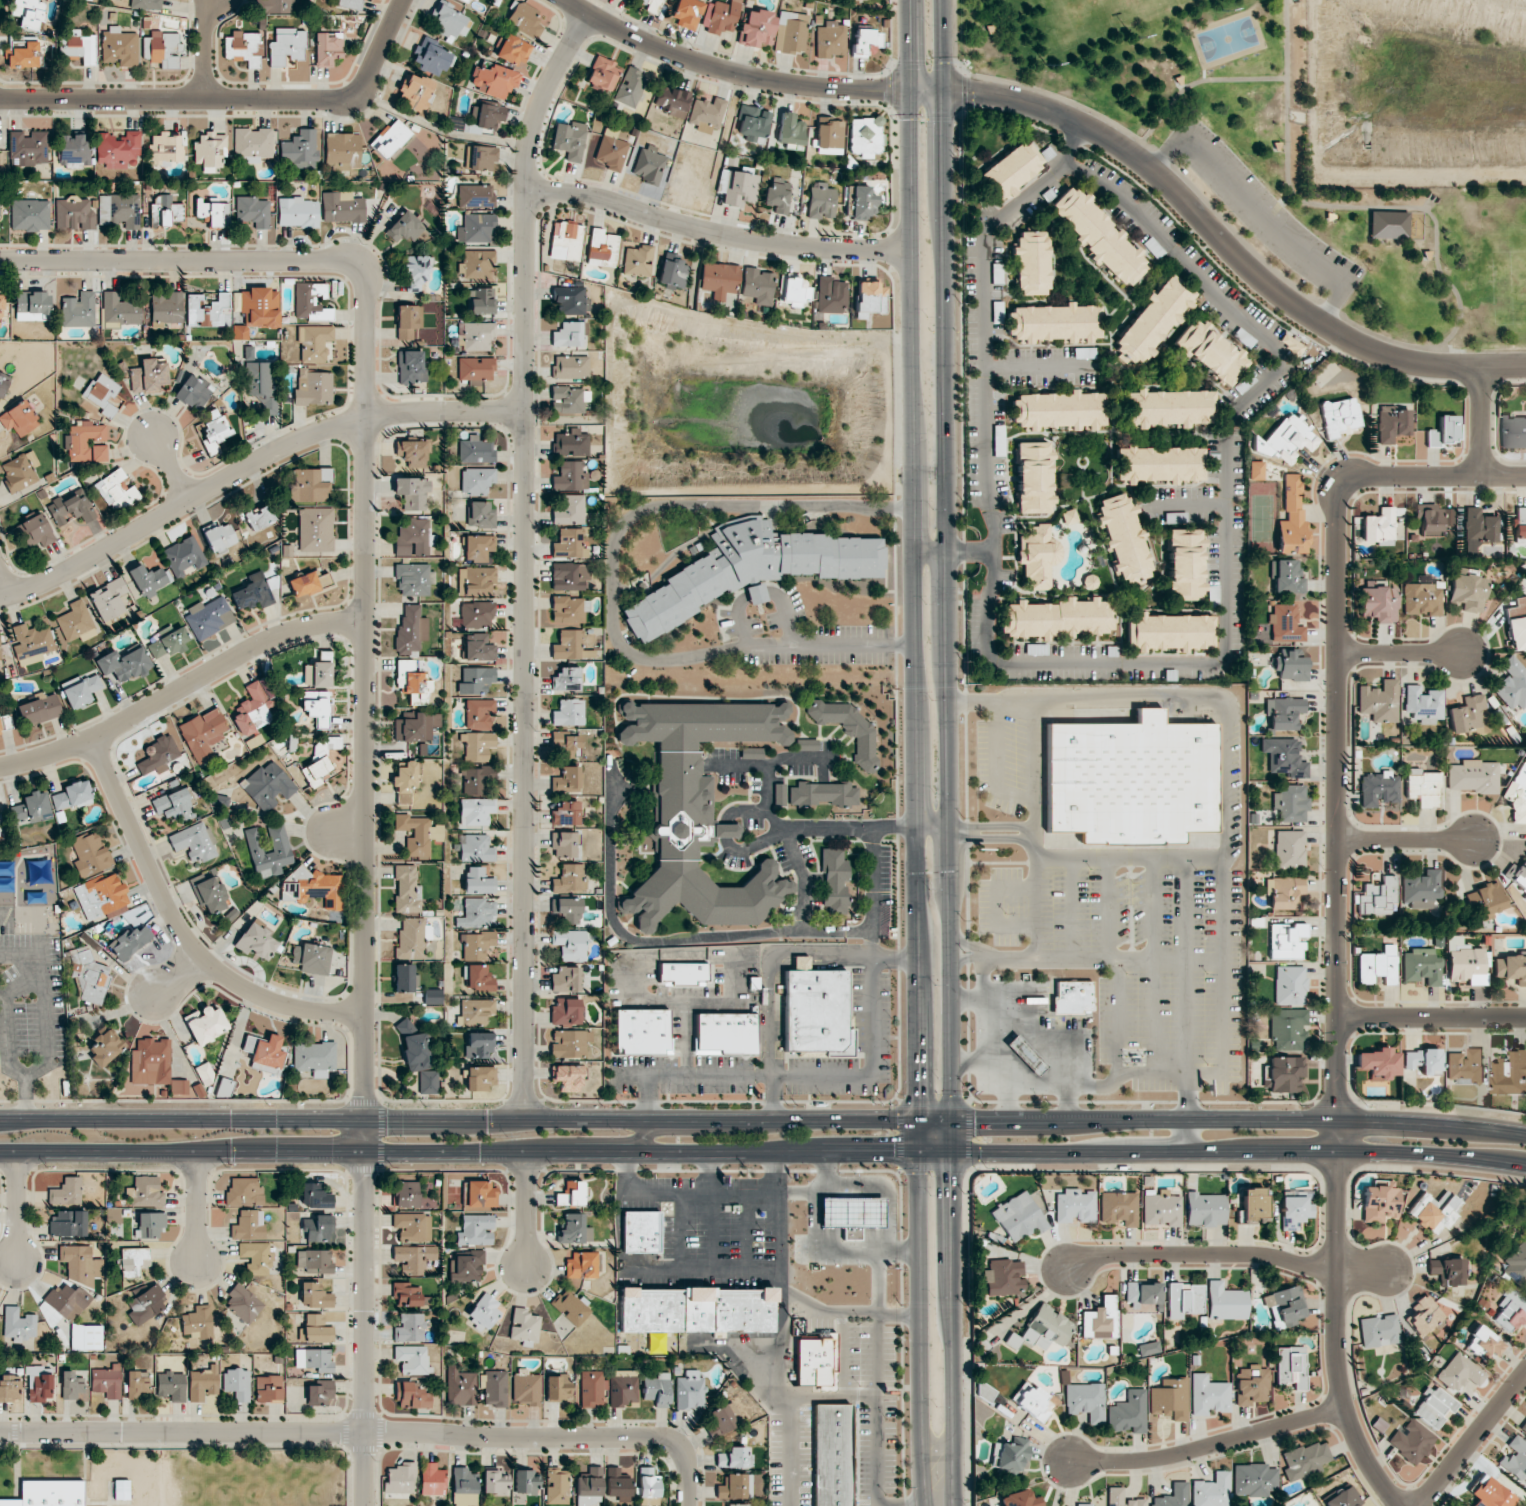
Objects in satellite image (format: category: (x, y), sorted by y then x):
building: (464, 0)
building: (475, 0)
building: (146, 4)
building: (351, 4)
building: (653, 5)
building: (279, 6)
building: (29, 12)
building: (687, 14)
building: (721, 17)
building: (526, 19)
building: (449, 21)
building: (757, 28)
building: (791, 34)
park: (1228, 39)
building: (830, 40)
building: (866, 42)
building: (79, 46)
building: (120, 46)
building: (286, 46)
building: (243, 47)
building: (328, 48)
building: (163, 49)
road: (205, 49)
building: (514, 51)
building: (25, 56)
building: (432, 57)
traffic signals: (913, 59)
building: (602, 73)
road: (1204, 75)
building: (494, 79)
road: (1199, 80)
traffic signals: (879, 91)
building: (414, 92)
traffic signals: (970, 92)
road: (231, 99)
building: (672, 101)
building: (706, 114)
building: (753, 123)
road: (1076, 123)
traffic signals: (944, 124)
building: (790, 129)
building: (865, 135)
building: (829, 136)
building: (390, 138)
building: (570, 140)
building: (252, 144)
road: (1070, 145)
building: (166, 147)
building: (28, 148)
building: (340, 149)
building: (74, 150)
building: (299, 150)
building: (210, 151)
building: (611, 152)
building: (480, 158)
building: (354, 159)
park: (1268, 159)
building: (649, 165)
building: (1012, 169)
road: (1181, 175)
building: (475, 196)
building: (777, 196)
building: (0, 197)
building: (821, 201)
building: (863, 203)
building: (342, 207)
road: (1345, 207)
road: (1386, 210)
building: (119, 211)
building: (165, 211)
building: (252, 211)
building: (214, 212)
building: (297, 212)
building: (74, 214)
building: (30, 215)
road: (1261, 215)
building: (1388, 225)
building: (405, 227)
building: (477, 228)
road: (717, 232)
building: (1099, 237)
building: (566, 241)
building: (602, 248)
building: (637, 259)
building: (1032, 263)
building: (477, 264)
building: (416, 272)
building: (673, 273)
building: (719, 278)
building: (757, 286)
building: (793, 290)
building: (831, 296)
building: (869, 298)
building: (311, 301)
building: (482, 301)
building: (570, 301)
building: (2, 305)
building: (32, 306)
building: (167, 307)
building: (194, 309)
building: (219, 309)
building: (78, 310)
building: (120, 310)
building: (257, 310)
building: (407, 321)
building: (1154, 321)
road: (1247, 321)
building: (1053, 323)
building: (569, 334)
building: (478, 336)
building: (314, 342)
building: (1292, 345)
building: (1210, 352)
road: (1040, 366)
building: (410, 367)
building: (571, 367)
building: (3, 384)
building: (261, 386)
building: (313, 387)
building: (194, 392)
building: (104, 394)
building: (570, 400)
building: (1169, 408)
building: (1060, 411)
building: (1340, 416)
building: (19, 418)
road: (1482, 422)
building: (1392, 424)
building: (215, 431)
building: (1443, 432)
building: (1513, 432)
building: (1287, 439)
building: (77, 442)
building: (571, 443)
building: (476, 450)
building: (413, 452)
building: (1159, 464)
road: (250, 465)
road: (172, 469)
building: (1256, 470)
building: (20, 471)
building: (571, 476)
building: (1033, 478)
building: (476, 480)
building: (313, 485)
building: (117, 491)
building: (413, 493)
building: (71, 509)
building: (569, 510)
building: (480, 514)
building: (259, 518)
building: (1428, 518)
building: (1292, 520)
building: (1520, 525)
building: (1379, 527)
building: (316, 529)
building: (1478, 529)
building: (36, 531)
building: (220, 537)
building: (1124, 539)
building: (569, 544)
building: (480, 548)
road: (931, 554)
building: (184, 556)
building: (1038, 556)
road: (526, 560)
building: (1184, 564)
building: (749, 569)
building: (569, 576)
building: (1286, 577)
building: (324, 578)
building: (149, 579)
building: (414, 579)
building: (475, 580)
road: (4, 584)
building: (304, 584)
road: (610, 585)
building: (252, 591)
building: (1468, 591)
building: (756, 593)
building: (108, 599)
building: (1421, 599)
building: (569, 609)
building: (477, 614)
building: (209, 617)
building: (1056, 618)
building: (75, 623)
building: (1285, 624)
building: (1517, 624)
building: (410, 630)
building: (1169, 632)
building: (168, 641)
building: (31, 643)
building: (478, 647)
road: (1400, 653)
road: (1337, 661)
building: (124, 664)
building: (1291, 665)
building: (317, 674)
building: (566, 679)
building: (476, 680)
building: (412, 681)
building: (1512, 684)
road: (181, 688)
building: (80, 690)
building: (1380, 701)
building: (1422, 706)
building: (316, 707)
road: (365, 707)
building: (254, 708)
building: (569, 712)
building: (1284, 713)
building: (479, 714)
building: (1469, 714)
building: (415, 727)
building: (849, 729)
building: (203, 733)
building: (567, 745)
building: (478, 746)
road: (915, 754)
road: (947, 754)
building: (158, 755)
building: (1284, 757)
building: (321, 758)
road: (1032, 766)
building: (1474, 777)
building: (475, 780)
building: (567, 780)
building: (1129, 780)
building: (405, 782)
building: (268, 786)
road: (1226, 786)
building: (1423, 787)
building: (1378, 788)
building: (779, 794)
building: (822, 794)
building: (72, 795)
building: (1518, 795)
building: (1291, 803)
building: (175, 805)
building: (32, 807)
building: (476, 811)
building: (697, 811)
building: (566, 814)
road: (931, 829)
road: (342, 832)
building: (418, 834)
building: (278, 840)
road: (1407, 840)
building: (193, 842)
building: (564, 844)
building: (476, 848)
building: (1290, 849)
building: (90, 853)
road: (792, 853)
building: (1517, 874)
building: (569, 878)
building: (835, 880)
building: (478, 881)
building: (314, 887)
building: (407, 889)
building: (1421, 889)
building: (209, 892)
building: (1285, 892)
road: (873, 894)
building: (1378, 896)
building: (102, 897)
building: (1525, 898)
building: (1490, 899)
road: (1044, 907)
building: (565, 910)
building: (478, 914)
road: (179, 931)
building: (412, 937)
road: (640, 940)
building: (129, 941)
building: (256, 941)
building: (1286, 941)
building: (570, 944)
building: (478, 945)
road: (1082, 956)
building: (312, 958)
road: (799, 961)
road: (840, 961)
building: (1465, 962)
building: (1378, 966)
building: (1421, 966)
building: (1511, 968)
building: (680, 974)
building: (90, 976)
road: (174, 978)
building: (405, 978)
building: (479, 979)
building: (565, 979)
building: (1290, 985)
building: (432, 996)
building: (1070, 997)
road: (966, 1000)
building: (476, 1011)
road: (769, 1011)
building: (813, 1011)
building: (566, 1012)
road: (1432, 1019)
building: (205, 1024)
building: (1288, 1028)
building: (639, 1032)
building: (722, 1034)
building: (570, 1043)
building: (479, 1045)
building: (266, 1051)
building: (103, 1053)
building: (1026, 1054)
gas station: (1023, 1055)
building: (417, 1058)
building: (314, 1059)
road: (967, 1059)
building: (150, 1061)
building: (1423, 1061)
building: (1379, 1064)
road: (1218, 1067)
building: (1466, 1067)
building: (205, 1074)
building: (1285, 1074)
building: (1510, 1074)
building: (567, 1077)
road: (813, 1077)
building: (480, 1078)
road: (995, 1082)
building: (180, 1086)
building: (223, 1088)
traffic signals: (919, 1096)
road: (1186, 1096)
road: (771, 1099)
road: (1007, 1103)
road: (1069, 1103)
traffic signals: (974, 1120)
road: (763, 1121)
road: (1186, 1136)
road: (643, 1137)
road: (763, 1152)
traffic signals: (891, 1152)
traffic signals: (950, 1175)
road: (885, 1189)
building: (243, 1191)
road: (726, 1191)
building: (66, 1192)
building: (146, 1192)
building: (571, 1193)
building: (407, 1194)
building: (481, 1194)
building: (316, 1196)
building: (1380, 1201)
building: (1254, 1205)
road: (194, 1206)
building: (1075, 1206)
road: (17, 1207)
building: (1119, 1208)
building: (1162, 1209)
building: (1205, 1209)
building: (1295, 1210)
road: (526, 1211)
building: (1434, 1211)
building: (849, 1213)
building: (1019, 1217)
gas station: (850, 1220)
building: (68, 1223)
building: (150, 1224)
building: (248, 1225)
building: (413, 1226)
building: (318, 1228)
building: (476, 1230)
building: (574, 1230)
building: (639, 1231)
road: (710, 1240)
road: (840, 1248)
road: (1221, 1254)
building: (256, 1257)
building: (414, 1257)
building: (133, 1261)
building: (315, 1261)
building: (80, 1264)
building: (1516, 1264)
building: (581, 1265)
building: (467, 1267)
road: (1337, 1269)
building: (1447, 1271)
building: (1004, 1277)
building: (1143, 1293)
building: (315, 1295)
building: (409, 1295)
building: (1184, 1300)
building: (67, 1301)
building: (1226, 1302)
building: (243, 1303)
building: (145, 1304)
building: (571, 1307)
building: (1285, 1307)
building: (694, 1310)
building: (484, 1311)
road: (845, 1311)
building: (1510, 1312)
building: (1424, 1315)
building: (1100, 1319)
building: (18, 1325)
building: (524, 1326)
building: (410, 1328)
road: (778, 1329)
building: (1043, 1329)
building: (315, 1330)
building: (1379, 1331)
building: (86, 1337)
building: (1485, 1344)
building: (1148, 1348)
building: (314, 1359)
building: (412, 1359)
building: (815, 1362)
building: (1291, 1366)
road: (879, 1378)
building: (106, 1381)
building: (39, 1383)
building: (203, 1383)
building: (237, 1383)
building: (71, 1385)
building: (137, 1385)
building: (171, 1385)
building: (460, 1386)
building: (1251, 1386)
building: (558, 1387)
building: (623, 1387)
building: (9, 1388)
building: (269, 1388)
building: (495, 1388)
building: (527, 1388)
building: (592, 1388)
building: (657, 1389)
building: (690, 1391)
building: (985, 1392)
building: (320, 1393)
building: (1208, 1395)
building: (411, 1396)
building: (1170, 1399)
building: (1033, 1401)
building: (1086, 1401)
building: (1434, 1408)
building: (1128, 1413)
building: (722, 1418)
building: (1523, 1427)
road: (372, 1432)
road: (1473, 1440)
building: (1411, 1441)
road: (1209, 1446)
building: (829, 1455)
building: (1009, 1455)
building: (734, 1458)
building: (1514, 1458)
building: (1305, 1460)
building: (400, 1478)
building: (432, 1479)
building: (1253, 1480)
building: (525, 1481)
building: (496, 1482)
building: (617, 1483)
building: (557, 1486)
building: (464, 1487)
building: (648, 1487)
building: (735, 1487)
building: (590, 1488)
building: (1211, 1491)
building: (48, 1493)
building: (1490, 1493)
building: (1173, 1496)
building: (1122, 1498)
building: (1344, 1498)
building: (1020, 1499)
building: (737, 1505)
building: (1086, 1505)

